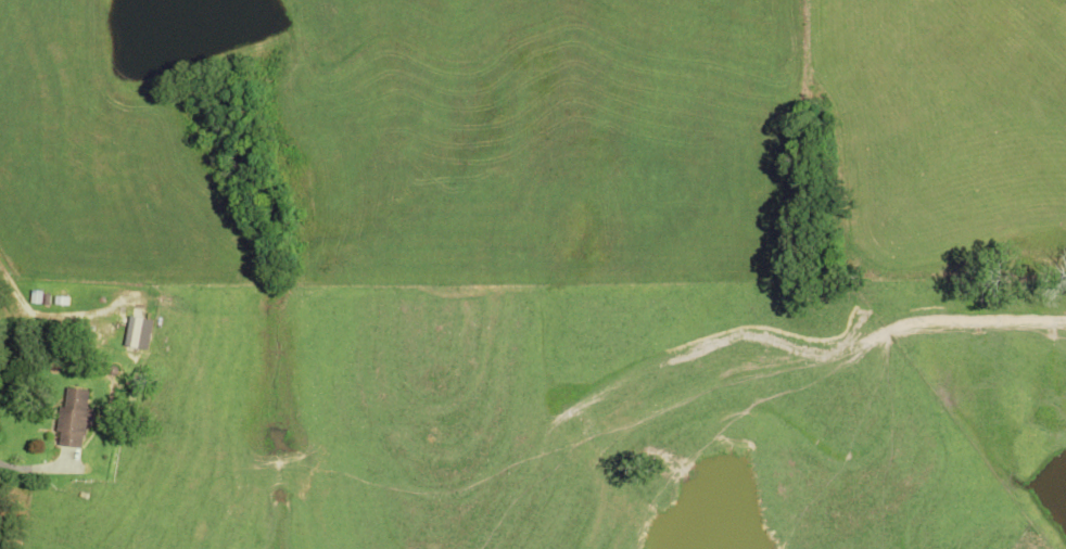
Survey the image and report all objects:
building: (59, 302)
building: (135, 335)
building: (75, 421)

